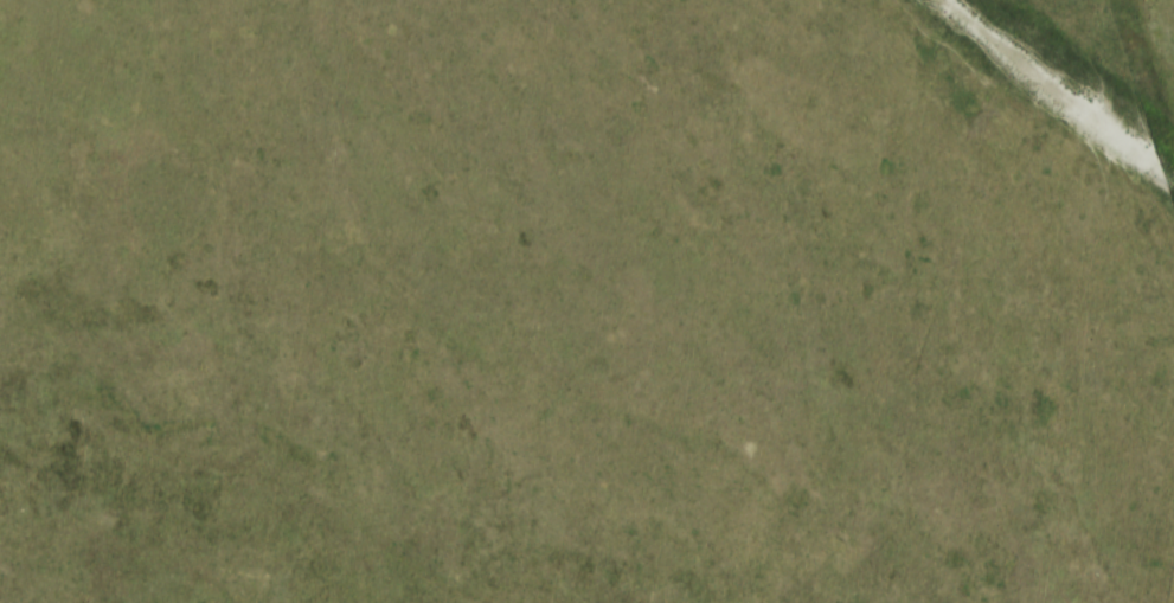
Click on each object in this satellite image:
crop: (1150, 59)

